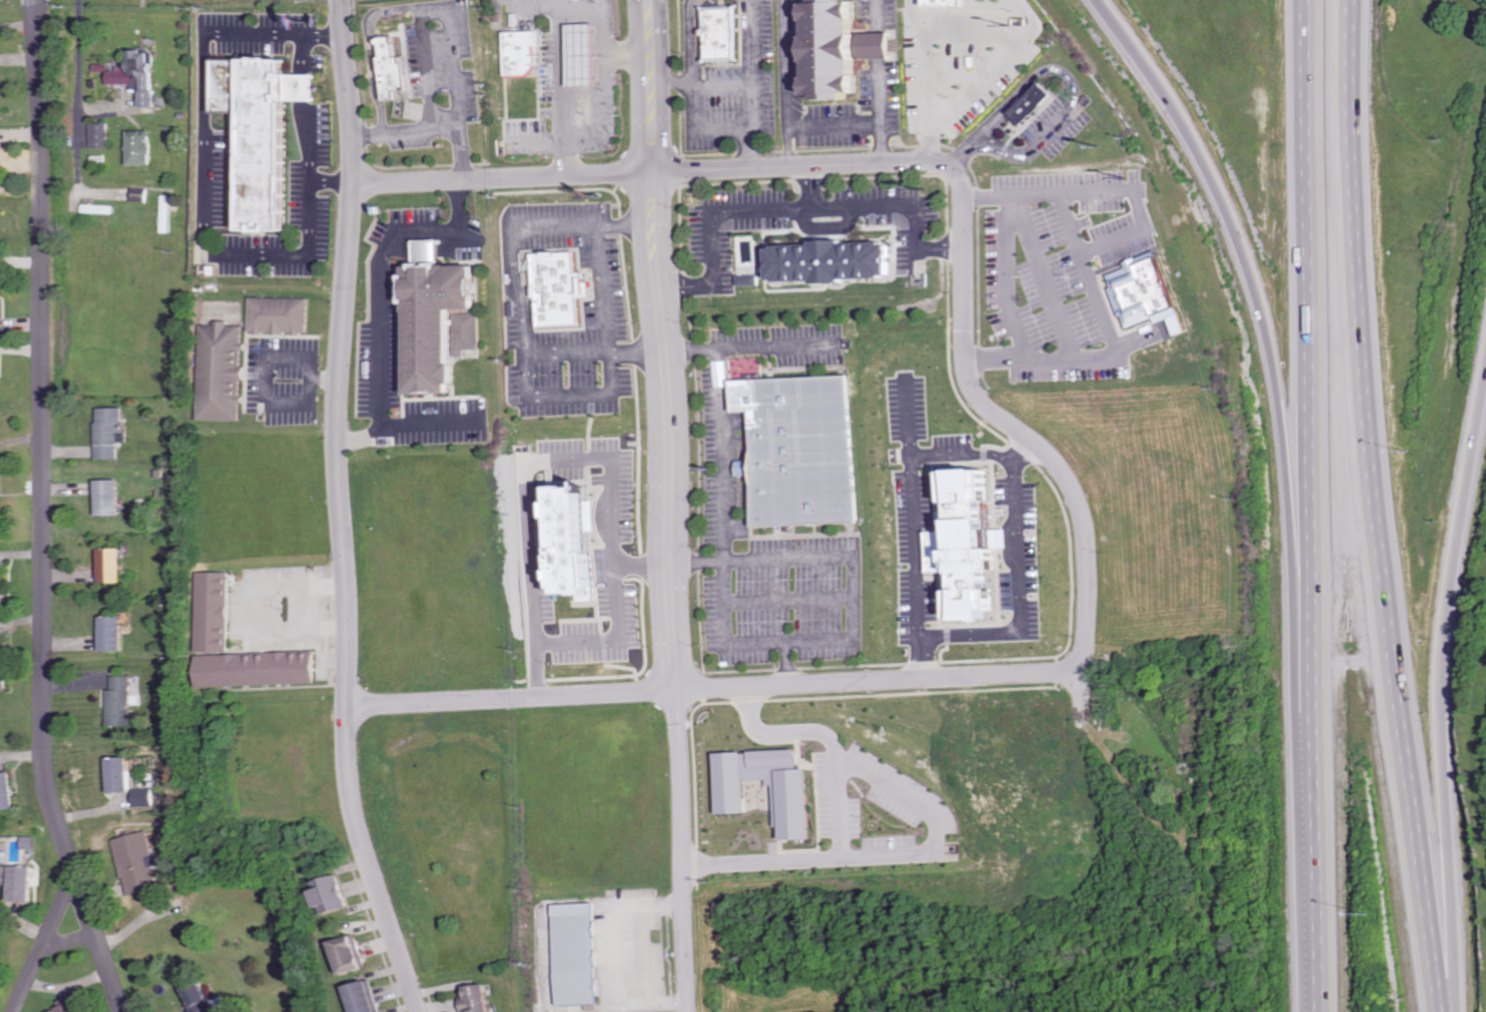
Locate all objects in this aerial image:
building: (948, 2)
road: (409, 4)
road: (896, 14)
building: (721, 32)
road: (897, 45)
building: (835, 48)
building: (525, 51)
building: (586, 54)
road: (753, 63)
road: (430, 64)
road: (925, 65)
building: (393, 67)
road: (995, 69)
building: (139, 74)
road: (806, 83)
road: (703, 84)
road: (695, 92)
road: (607, 102)
building: (1030, 102)
road: (80, 111)
road: (899, 112)
road: (433, 125)
road: (854, 127)
building: (262, 132)
building: (101, 134)
building: (141, 146)
road: (930, 148)
road: (758, 149)
road: (1013, 152)
road: (933, 164)
road: (201, 172)
road: (904, 208)
road: (727, 216)
road: (1067, 223)
road: (1088, 249)
building: (841, 259)
road: (1044, 275)
building: (756, 279)
road: (1009, 283)
building: (561, 288)
road: (603, 288)
building: (1147, 292)
road: (379, 293)
building: (0, 306)
road: (1260, 313)
building: (279, 314)
building: (445, 323)
building: (222, 369)
building: (1, 377)
building: (111, 431)
building: (810, 445)
road: (1021, 453)
road: (531, 458)
building: (109, 497)
building: (0, 504)
road: (1310, 505)
road: (669, 506)
road: (1021, 506)
road: (1375, 507)
road: (341, 509)
road: (45, 512)
road: (724, 521)
road: (916, 535)
building: (973, 545)
road: (836, 556)
building: (111, 564)
building: (4, 596)
building: (215, 611)
road: (246, 617)
building: (114, 633)
road: (610, 635)
building: (5, 670)
road: (1439, 685)
road: (717, 689)
building: (122, 702)
building: (121, 774)
building: (7, 791)
building: (145, 797)
building: (794, 799)
road: (841, 813)
building: (138, 863)
building: (337, 894)
road: (71, 942)
road: (46, 943)
building: (353, 954)
building: (579, 954)
road: (651, 955)
building: (365, 997)
building: (202, 998)
building: (478, 999)
building: (74, 1005)

